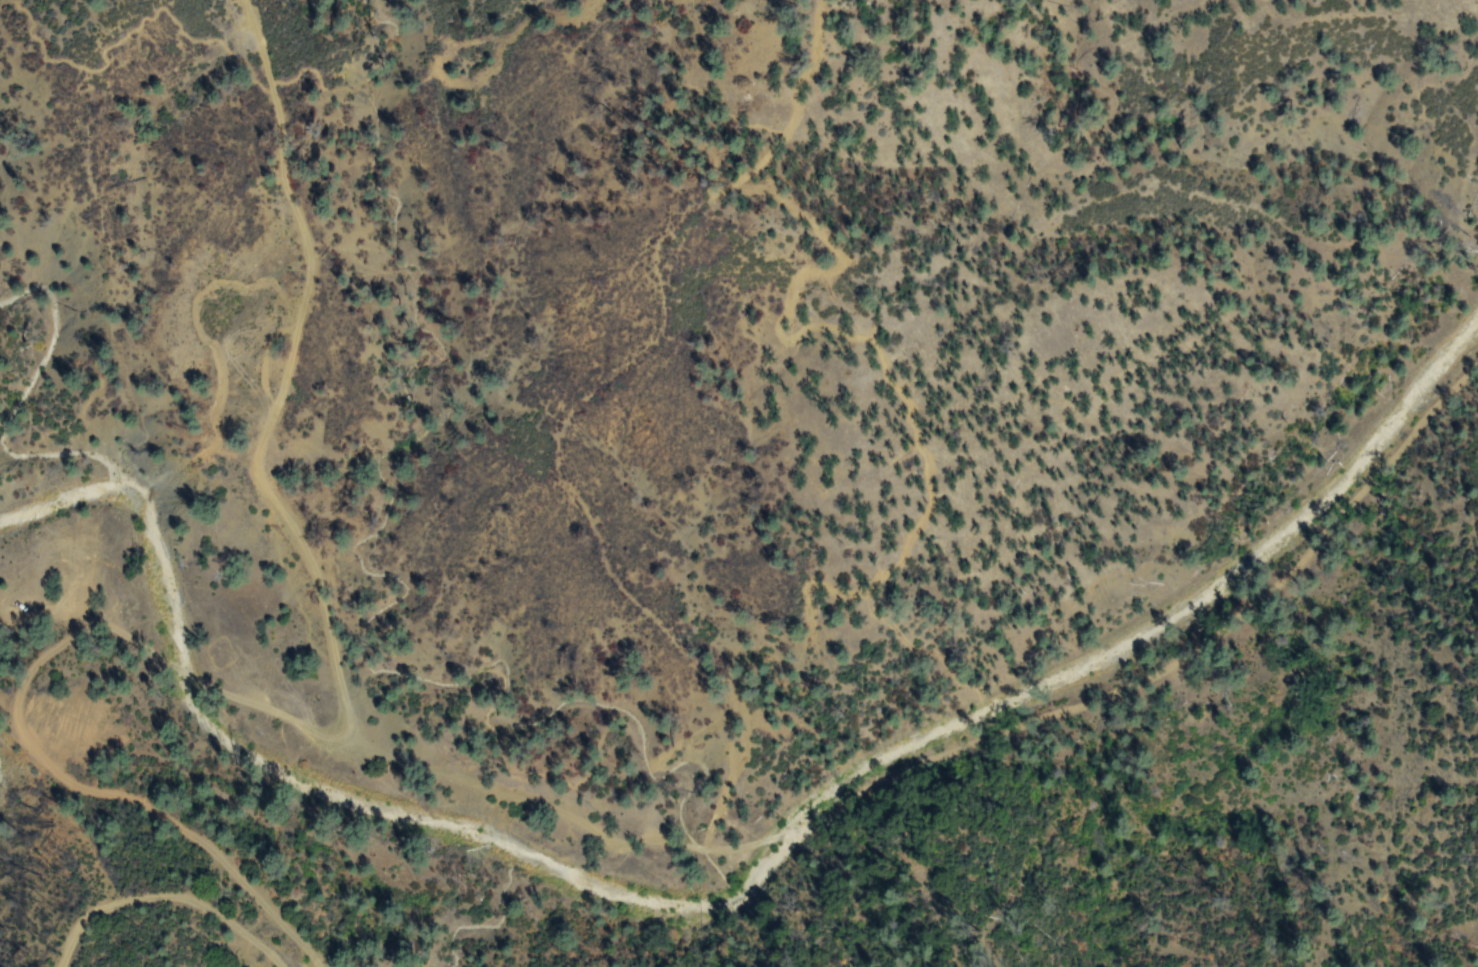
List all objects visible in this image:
road: (1080, 730)
road: (241, 815)

